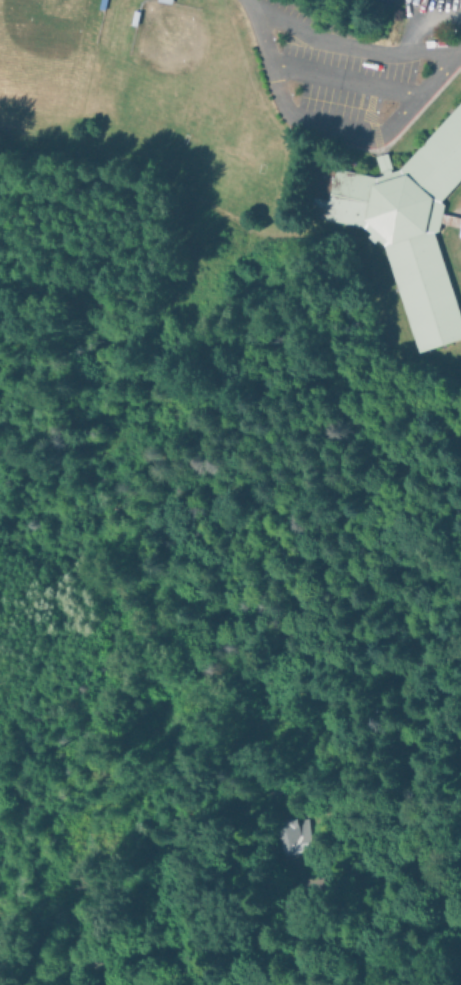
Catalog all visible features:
road: (423, 18)
road: (350, 45)
park: (46, 55)
park: (182, 66)
road: (345, 77)
road: (334, 124)
building: (409, 225)
building: (286, 836)

